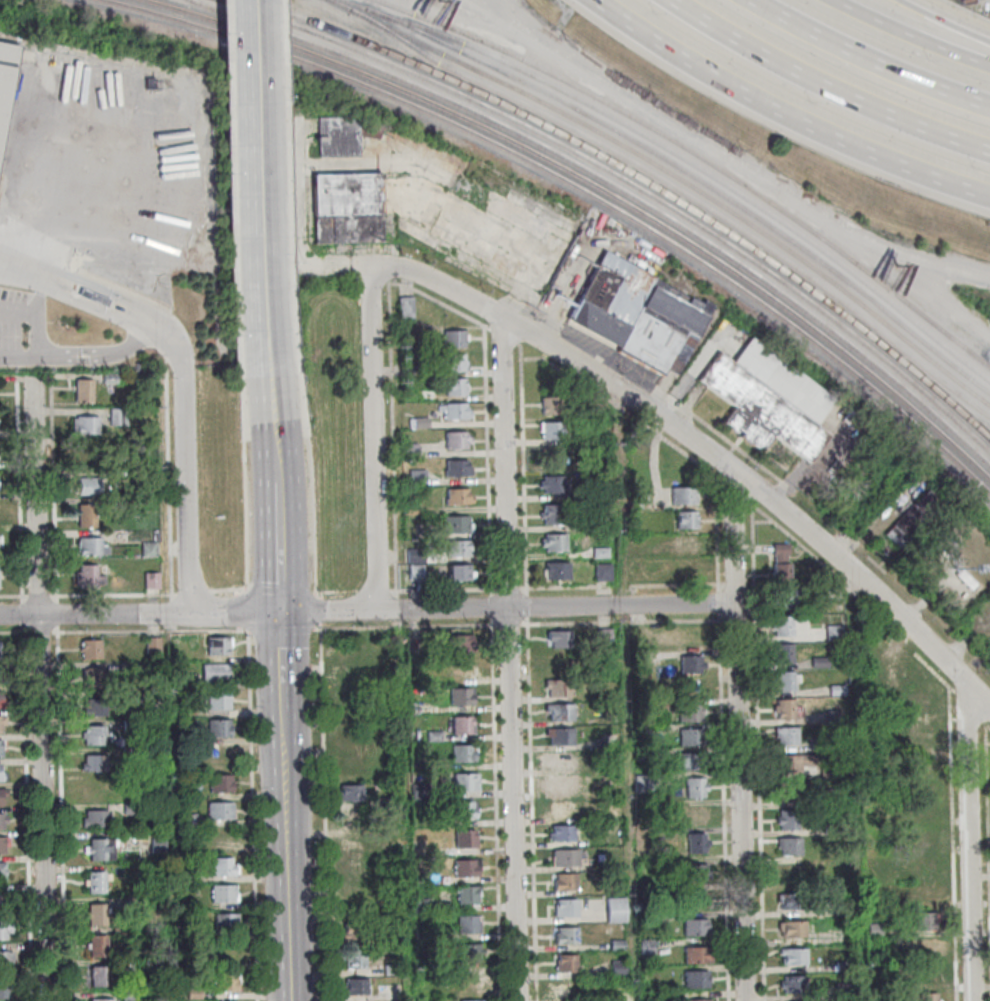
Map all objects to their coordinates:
road: (954, 18)
road: (924, 29)
road: (876, 58)
building: (5, 76)
road: (836, 82)
railway: (414, 94)
road: (795, 105)
building: (339, 137)
railway: (699, 156)
railway: (684, 158)
road: (751, 171)
railway: (676, 175)
railway: (694, 175)
railway: (639, 177)
railway: (630, 182)
railway: (617, 187)
railway: (581, 188)
railway: (682, 192)
building: (348, 197)
road: (260, 200)
road: (29, 270)
road: (112, 291)
building: (612, 303)
building: (407, 311)
road: (99, 312)
road: (37, 320)
building: (663, 337)
road: (166, 338)
building: (452, 343)
railway: (832, 343)
road: (101, 354)
road: (20, 358)
building: (451, 367)
building: (111, 381)
road: (615, 387)
building: (456, 391)
building: (85, 394)
building: (770, 402)
building: (552, 409)
building: (600, 413)
building: (457, 415)
building: (120, 419)
building: (423, 425)
building: (87, 429)
building: (554, 434)
building: (598, 437)
road: (375, 438)
road: (272, 441)
building: (457, 444)
building: (85, 453)
building: (411, 453)
building: (458, 472)
building: (418, 480)
road: (184, 481)
building: (554, 488)
building: (89, 489)
building: (603, 494)
building: (685, 499)
building: (459, 501)
building: (411, 512)
building: (553, 518)
building: (88, 519)
building: (688, 524)
building: (915, 524)
building: (456, 528)
building: (0, 542)
building: (687, 543)
road: (278, 546)
building: (555, 546)
building: (93, 550)
building: (150, 552)
building: (459, 552)
building: (602, 555)
building: (782, 556)
building: (416, 558)
building: (688, 568)
building: (416, 575)
building: (558, 575)
building: (604, 575)
building: (459, 577)
building: (783, 577)
building: (89, 581)
building: (153, 584)
building: (787, 602)
road: (367, 610)
traffic signals: (280, 612)
building: (784, 629)
building: (690, 634)
building: (836, 636)
building: (605, 638)
building: (561, 642)
building: (463, 643)
building: (219, 644)
building: (153, 645)
building: (91, 648)
building: (1, 650)
building: (347, 654)
building: (784, 656)
road: (509, 659)
building: (639, 661)
road: (281, 662)
building: (385, 662)
building: (559, 663)
building: (821, 665)
building: (692, 667)
building: (462, 668)
building: (896, 671)
building: (1, 672)
building: (215, 672)
building: (93, 676)
building: (187, 681)
building: (349, 682)
building: (786, 683)
road: (39, 688)
building: (560, 691)
building: (839, 691)
road: (624, 694)
building: (461, 696)
building: (0, 698)
building: (130, 698)
building: (218, 699)
building: (919, 700)
building: (94, 706)
building: (187, 708)
building: (350, 710)
building: (786, 711)
building: (560, 715)
building: (691, 715)
building: (835, 719)
building: (2, 720)
building: (463, 725)
building: (130, 727)
building: (219, 727)
building: (921, 730)
building: (93, 734)
building: (642, 734)
road: (738, 735)
building: (434, 736)
building: (561, 738)
building: (788, 738)
building: (347, 739)
building: (691, 739)
building: (819, 747)
building: (1, 748)
building: (890, 751)
building: (463, 753)
building: (129, 754)
building: (220, 755)
building: (644, 758)
building: (560, 760)
building: (924, 761)
building: (94, 762)
building: (691, 764)
building: (351, 765)
building: (795, 765)
building: (1, 775)
building: (466, 781)
building: (220, 782)
building: (923, 782)
building: (560, 784)
road: (856, 785)
building: (645, 786)
building: (696, 791)
building: (350, 792)
building: (792, 793)
building: (2, 794)
building: (831, 799)
building: (389, 802)
building: (130, 809)
building: (923, 809)
building: (220, 810)
building: (464, 810)
building: (564, 812)
building: (696, 815)
building: (95, 818)
building: (3, 820)
building: (188, 820)
building: (351, 820)
building: (788, 823)
building: (832, 830)
building: (562, 837)
building: (923, 837)
road: (970, 837)
building: (225, 838)
building: (466, 839)
building: (2, 844)
building: (158, 845)
building: (697, 846)
building: (100, 848)
building: (350, 848)
building: (790, 849)
road: (286, 856)
building: (565, 860)
building: (925, 865)
building: (223, 866)
building: (465, 868)
building: (2, 871)
building: (353, 875)
building: (695, 875)
building: (191, 876)
building: (96, 882)
building: (566, 885)
building: (660, 891)
building: (224, 892)
building: (924, 892)
building: (467, 894)
building: (4, 901)
building: (696, 902)
building: (134, 903)
building: (420, 904)
building: (189, 905)
building: (355, 905)
building: (794, 905)
building: (566, 911)
building: (617, 912)
building: (96, 914)
building: (226, 920)
building: (648, 923)
building: (924, 923)
building: (468, 924)
building: (5, 929)
building: (355, 930)
building: (697, 930)
building: (875, 930)
building: (793, 932)
building: (120, 933)
building: (422, 935)
building: (566, 936)
building: (97, 945)
building: (617, 945)
building: (648, 949)
building: (226, 952)
building: (469, 952)
building: (6, 958)
building: (696, 958)
building: (794, 958)
building: (355, 962)
building: (566, 963)
building: (844, 966)
building: (617, 967)
building: (392, 969)
building: (99, 976)
building: (928, 977)
building: (471, 980)
building: (696, 980)
building: (225, 981)
building: (355, 987)
building: (794, 987)
building: (5, 988)
building: (567, 990)
building: (844, 990)
building: (194, 993)
building: (130, 996)
building: (664, 996)
building: (929, 997)
building: (100, 1000)
building: (472, 1000)
building: (698, 1000)

